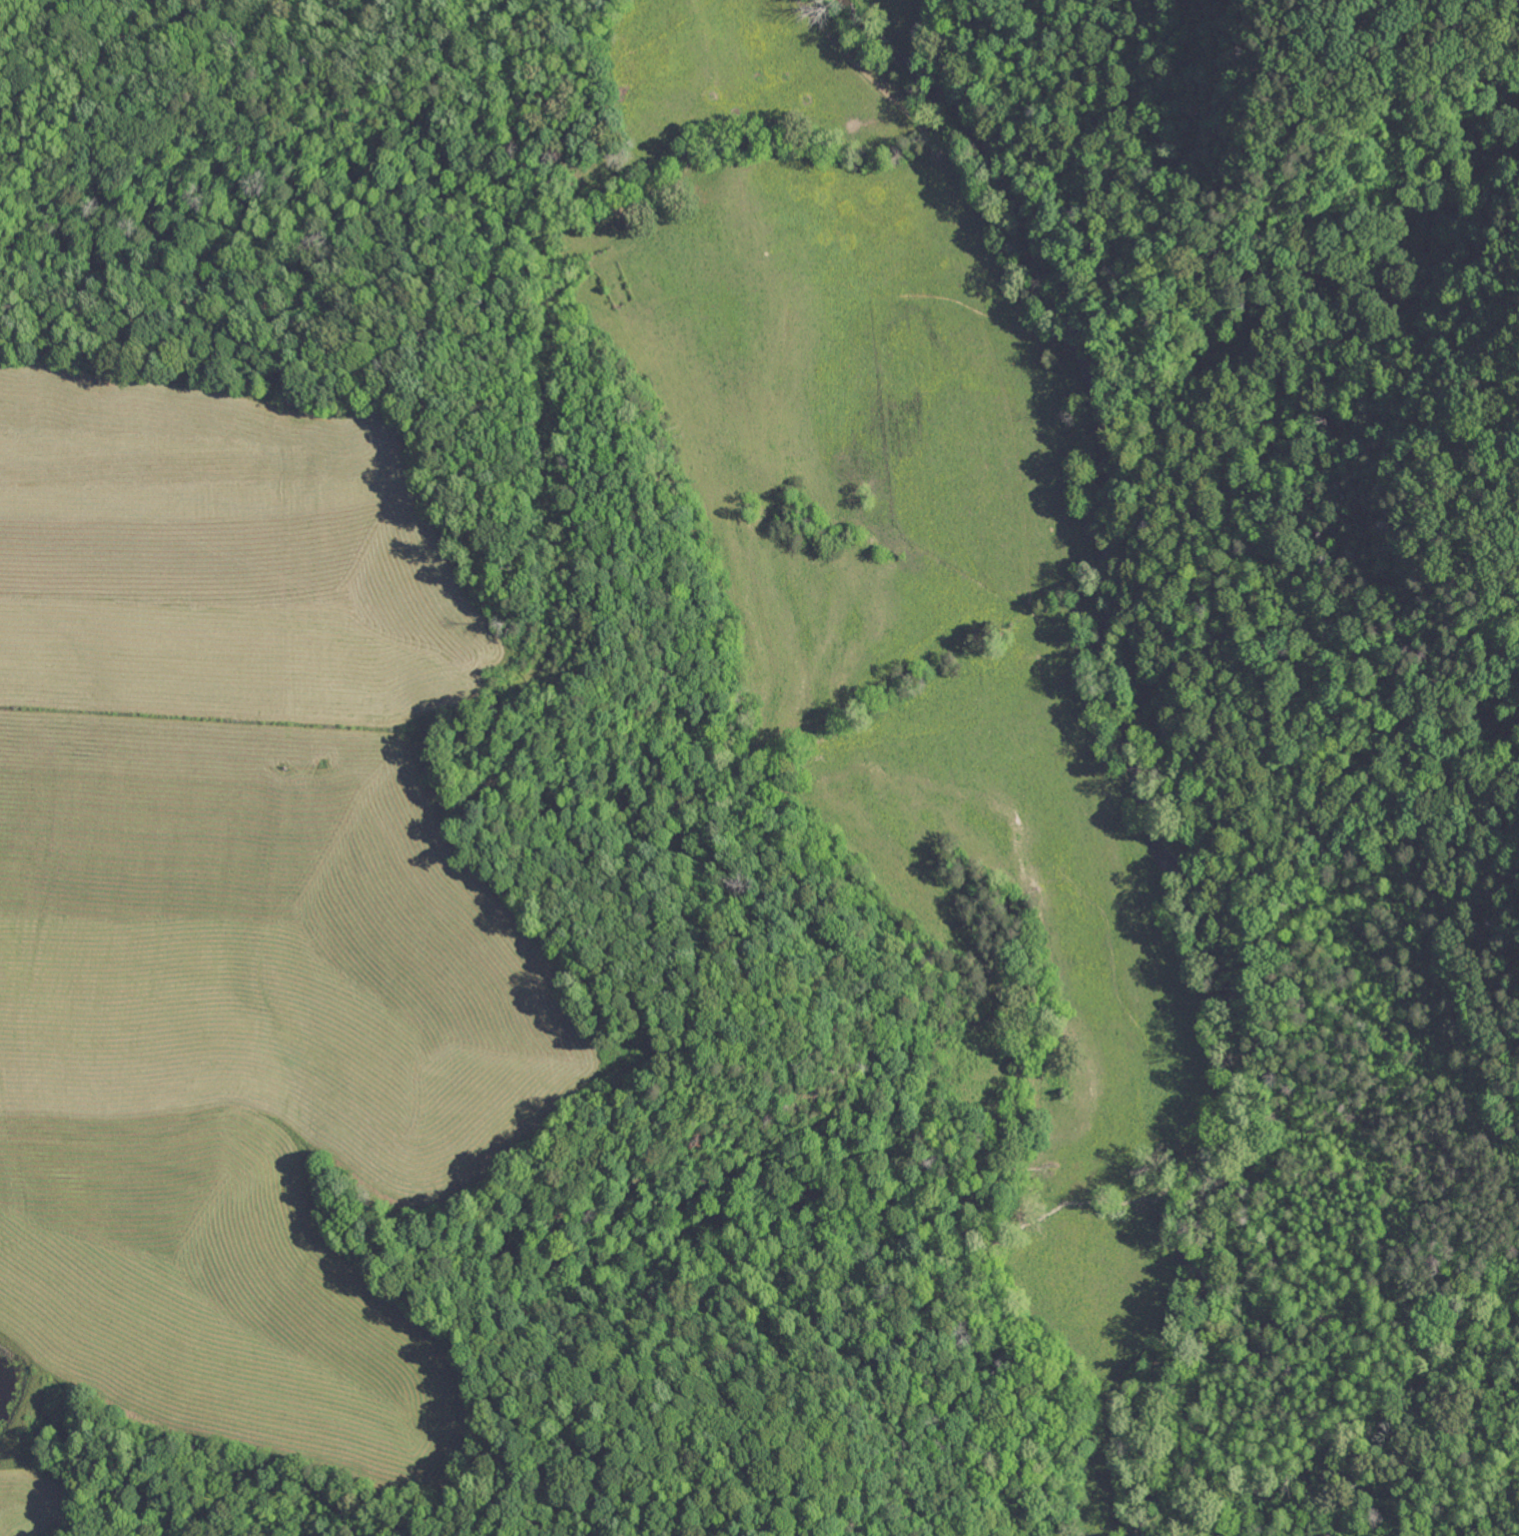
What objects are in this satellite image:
road: (98, 752)

